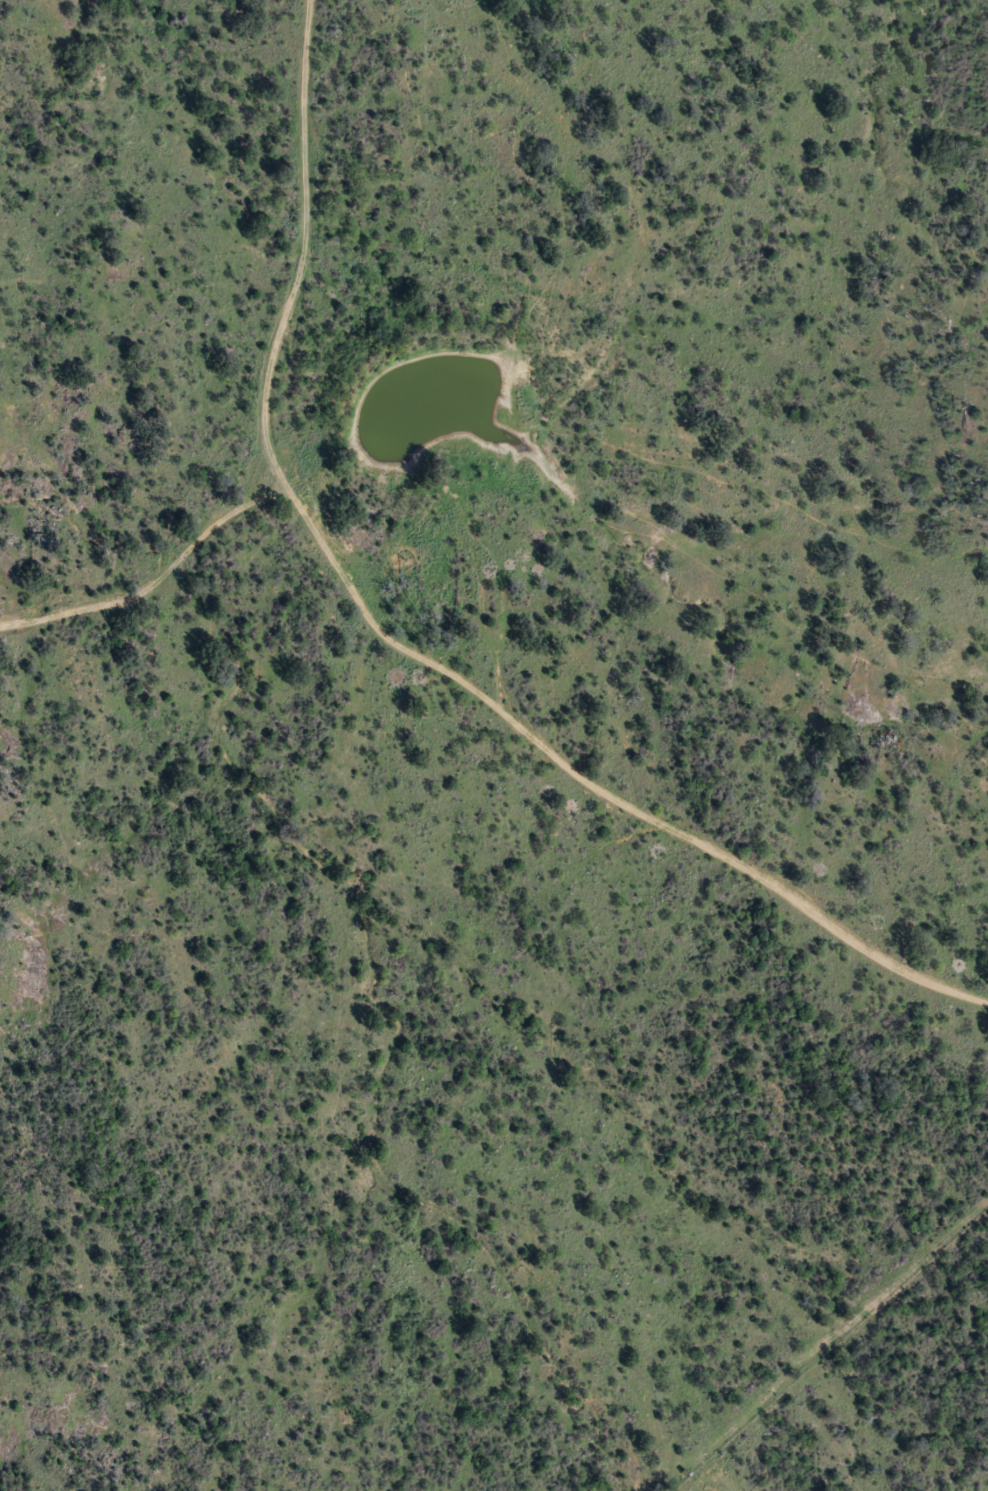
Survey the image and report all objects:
road: (406, 642)

